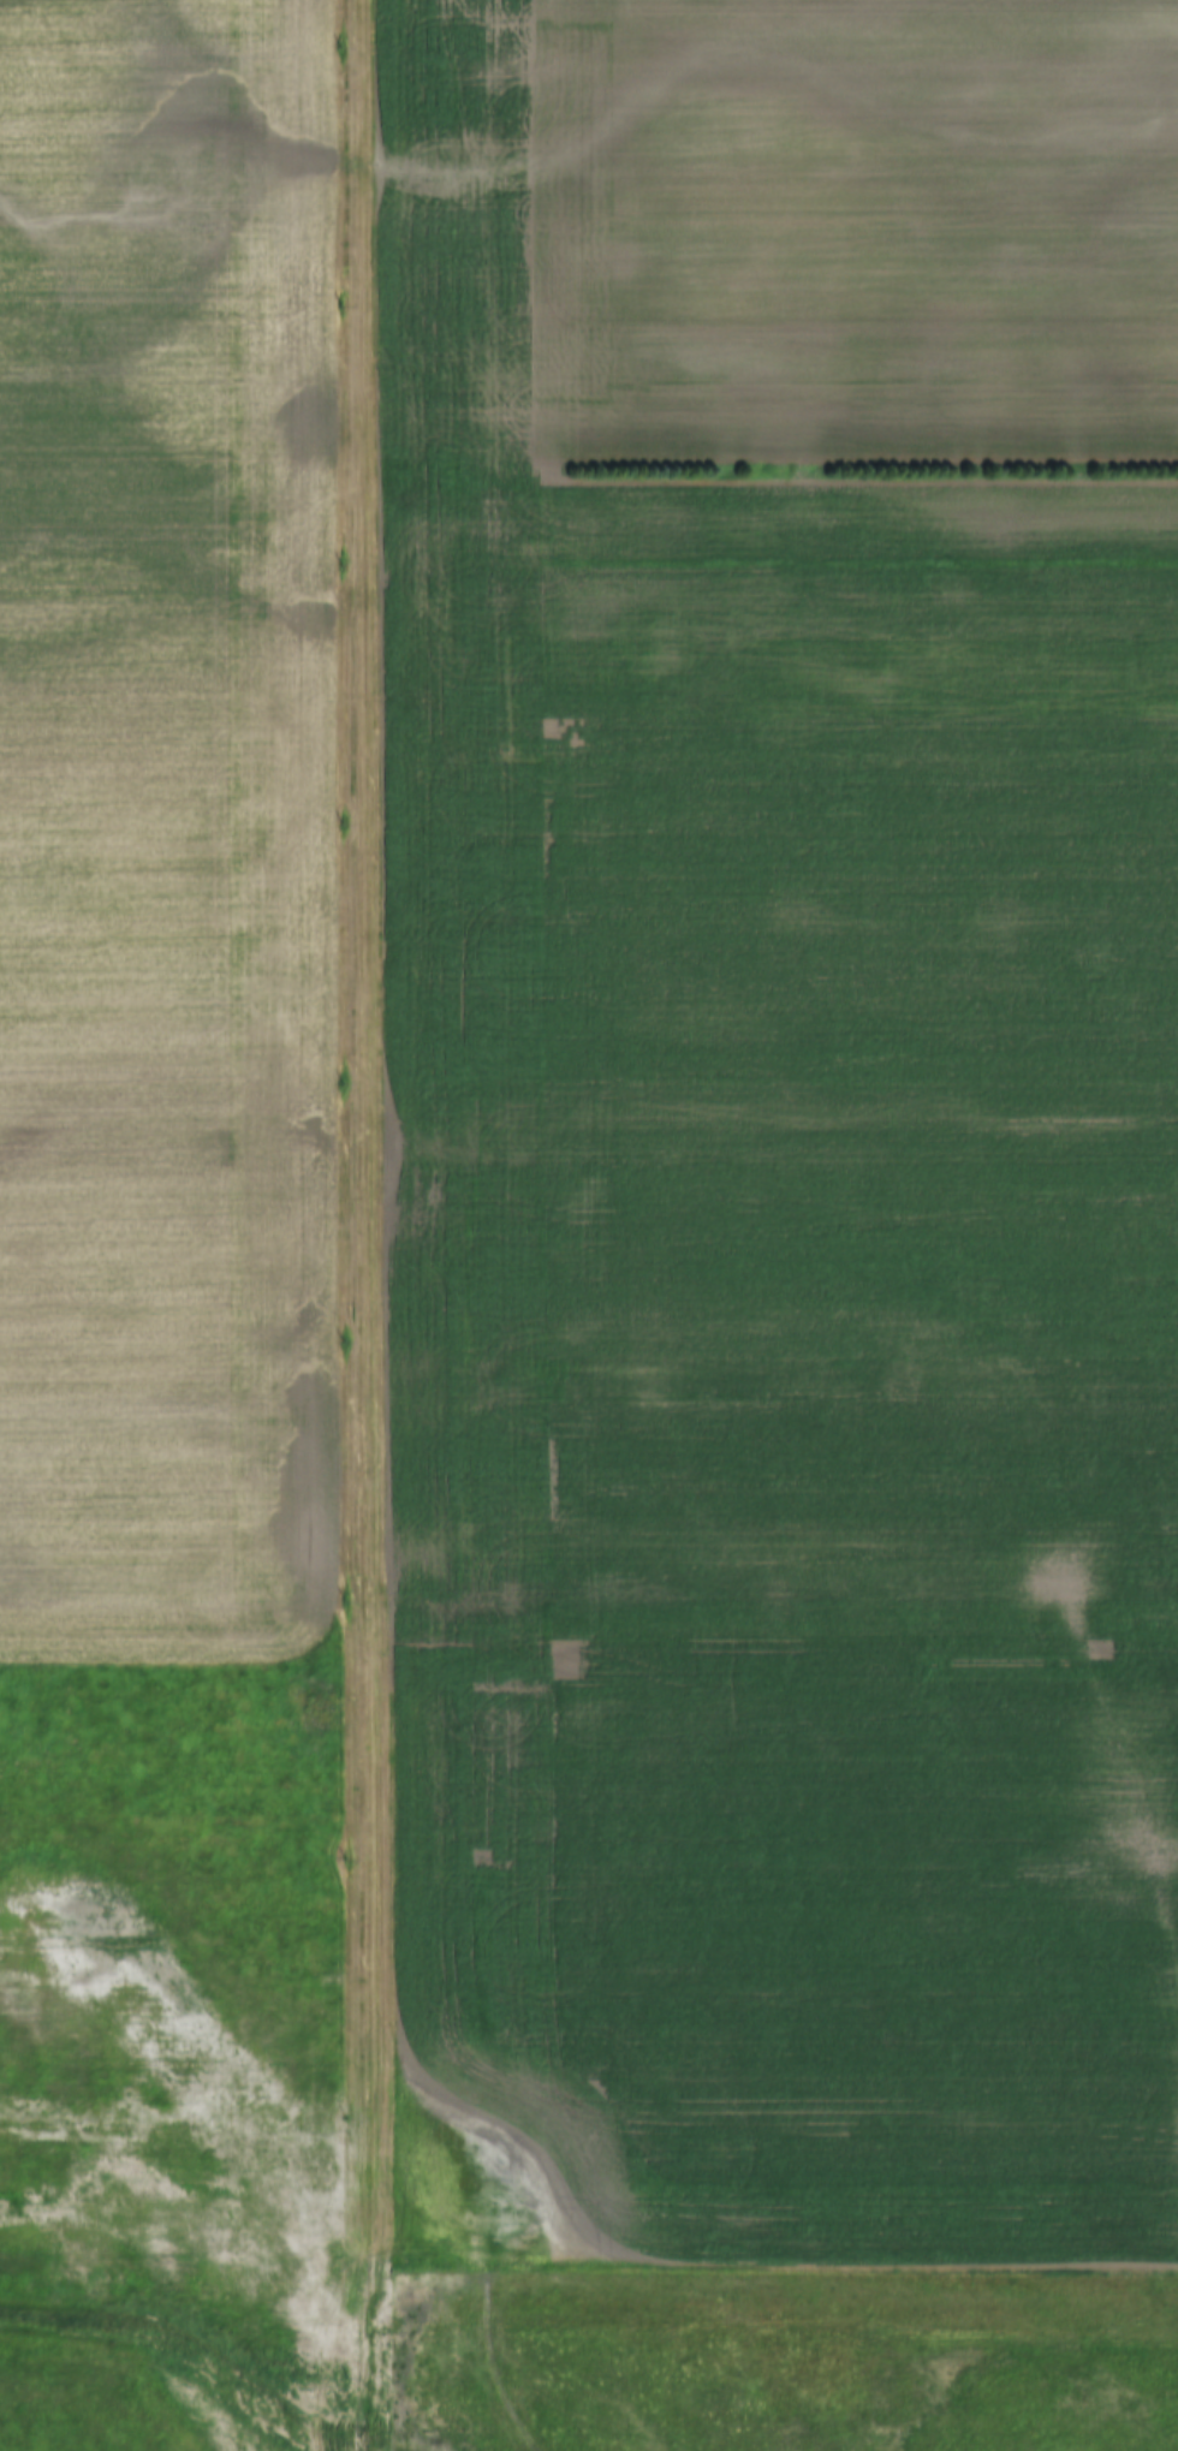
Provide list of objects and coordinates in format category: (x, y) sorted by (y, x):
road: (380, 1225)

